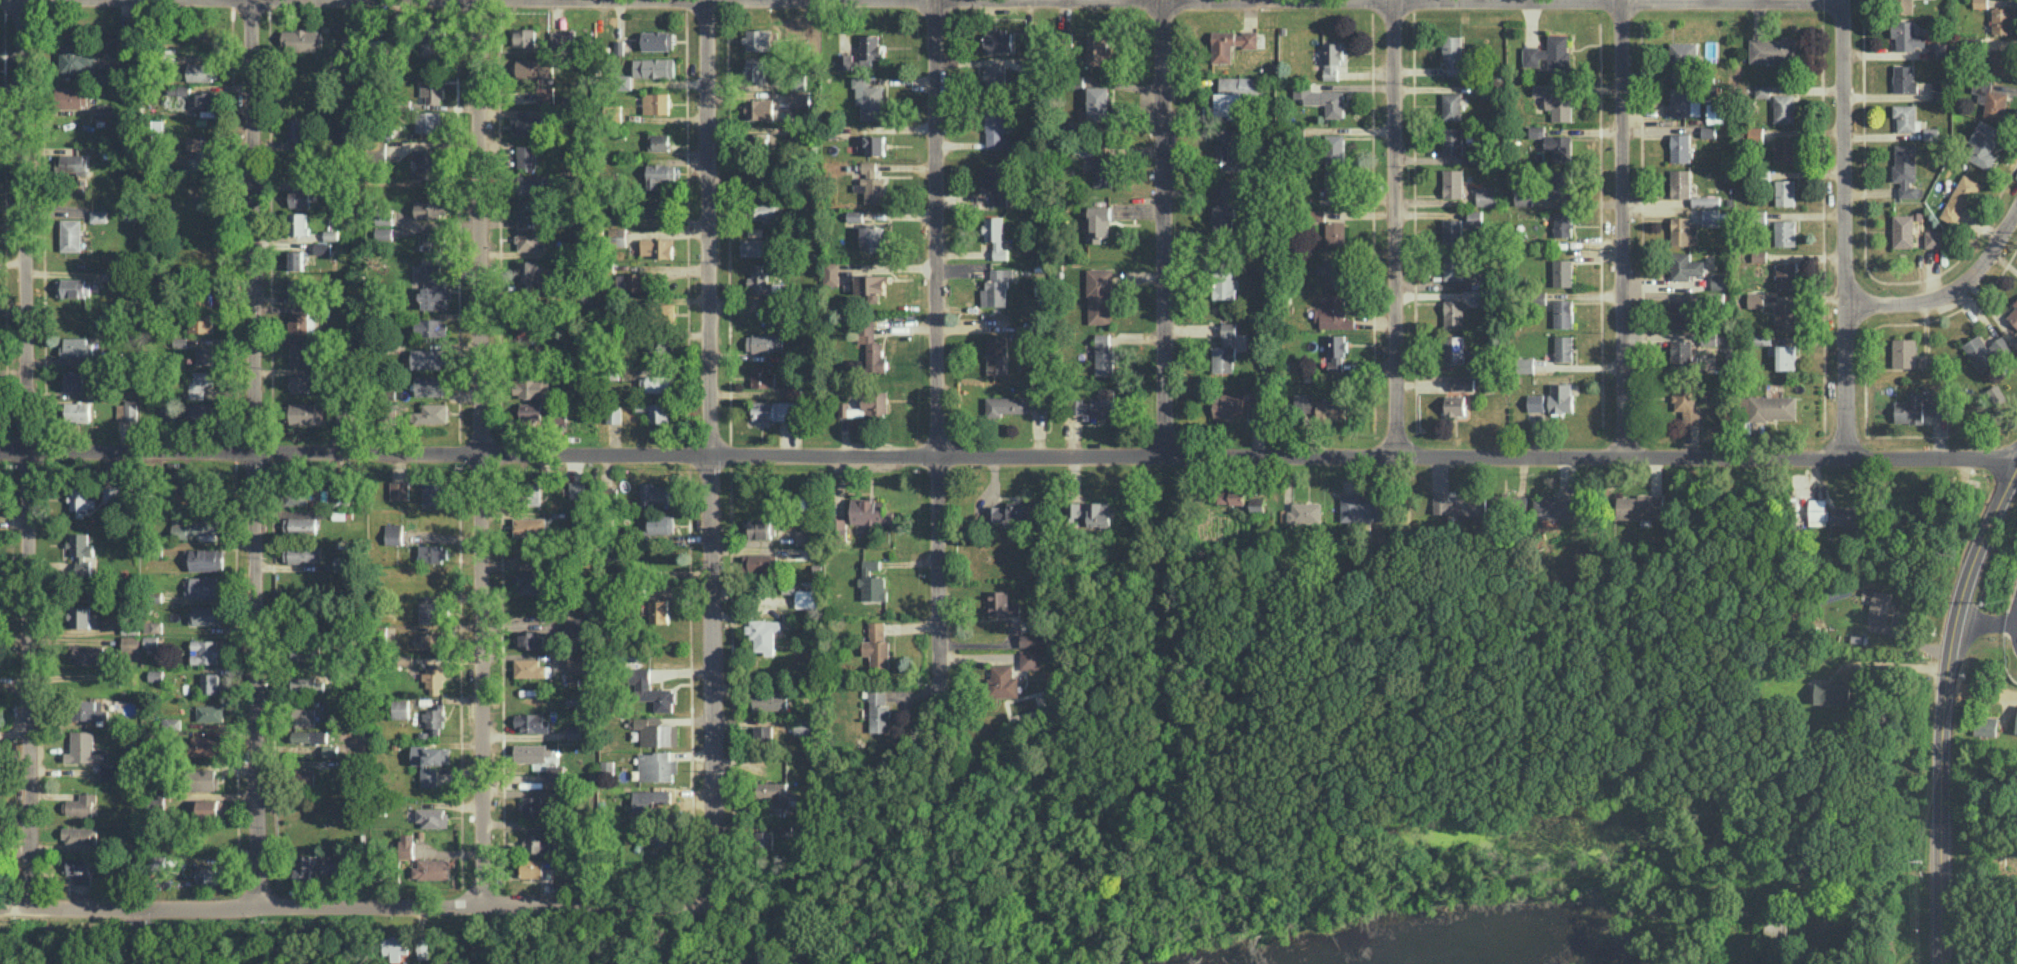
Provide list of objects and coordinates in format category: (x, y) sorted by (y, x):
road: (1507, 0)
building: (1980, 3)
building: (1902, 6)
building: (2001, 19)
building: (1906, 35)
building: (523, 37)
building: (302, 39)
building: (759, 39)
building: (658, 40)
building: (347, 41)
building: (998, 41)
building: (430, 42)
building: (1231, 43)
building: (123, 44)
building: (870, 46)
building: (1098, 46)
building: (1772, 49)
building: (1937, 49)
building: (1550, 53)
building: (1453, 54)
building: (76, 58)
building: (1331, 59)
building: (1682, 59)
building: (845, 61)
building: (2001, 61)
building: (535, 67)
building: (654, 67)
building: (755, 70)
building: (200, 71)
building: (995, 78)
building: (1904, 79)
building: (1239, 84)
building: (178, 89)
building: (1939, 89)
building: (1762, 90)
building: (432, 91)
building: (1487, 92)
building: (545, 94)
building: (72, 96)
building: (206, 98)
building: (800, 98)
building: (869, 98)
building: (1322, 98)
building: (1556, 99)
building: (1991, 99)
building: (174, 101)
building: (656, 102)
building: (1099, 102)
building: (1683, 102)
building: (1225, 103)
building: (1452, 105)
building: (760, 108)
building: (1784, 108)
building: (106, 109)
building: (1715, 113)
building: (1905, 116)
building: (428, 121)
building: (527, 125)
building: (1075, 126)
building: (996, 129)
building: (297, 130)
building: (1931, 133)
building: (1755, 134)
building: (762, 139)
building: (1452, 140)
building: (658, 141)
building: (872, 144)
building: (1224, 145)
building: (1982, 145)
building: (1334, 147)
building: (1558, 147)
building: (1680, 147)
building: (1784, 150)
building: (526, 155)
building: (1471, 157)
building: (74, 163)
building: (201, 163)
building: (428, 164)
building: (869, 167)
building: (1905, 169)
building: (1103, 171)
building: (660, 173)
building: (996, 182)
building: (1334, 183)
building: (1453, 183)
building: (1562, 183)
building: (1680, 183)
building: (529, 184)
building: (874, 189)
building: (1785, 192)
building: (1486, 195)
building: (299, 196)
building: (1960, 198)
building: (1705, 200)
building: (656, 208)
building: (430, 209)
building: (527, 209)
building: (1225, 209)
building: (764, 213)
building: (99, 215)
building: (855, 216)
building: (1713, 216)
building: (386, 217)
building: (1474, 217)
building: (1099, 222)
building: (298, 223)
building: (1562, 223)
road: (1162, 228)
road: (1844, 228)
road: (1394, 229)
road: (1623, 229)
building: (1683, 230)
building: (1903, 230)
building: (756, 231)
building: (1452, 231)
building: (1335, 232)
building: (1785, 232)
building: (384, 233)
building: (72, 234)
building: (331, 235)
building: (996, 235)
building: (619, 236)
building: (870, 237)
building: (1932, 237)
building: (527, 238)
building: (432, 241)
building: (756, 246)
building: (658, 247)
building: (322, 248)
building: (296, 259)
building: (1453, 265)
building: (1685, 265)
building: (1333, 272)
building: (1562, 272)
building: (831, 273)
building: (1786, 274)
building: (527, 275)
building: (621, 281)
building: (636, 281)
building: (761, 281)
building: (1721, 281)
building: (1225, 285)
building: (434, 286)
building: (871, 286)
building: (73, 287)
building: (997, 287)
building: (300, 290)
road: (1949, 291)
building: (1099, 295)
building: (1486, 298)
building: (1755, 299)
building: (669, 311)
building: (1333, 312)
building: (1453, 313)
building: (1563, 313)
building: (1681, 314)
building: (2013, 314)
building: (1785, 316)
building: (200, 321)
building: (302, 322)
building: (431, 327)
building: (528, 328)
building: (763, 342)
building: (2015, 342)
building: (1336, 345)
building: (872, 346)
road: (936, 346)
building: (76, 347)
building: (1454, 348)
building: (1563, 348)
building: (542, 349)
building: (1225, 350)
building: (1986, 350)
building: (1904, 352)
building: (300, 354)
building: (997, 354)
building: (1104, 354)
building: (1681, 354)
building: (204, 355)
building: (1785, 356)
building: (429, 358)
building: (1474, 358)
building: (1527, 364)
building: (1345, 366)
building: (762, 376)
building: (73, 381)
building: (199, 382)
building: (300, 383)
building: (657, 383)
building: (1463, 383)
building: (577, 384)
building: (431, 385)
building: (531, 387)
building: (1560, 397)
building: (875, 402)
building: (1104, 402)
building: (1304, 402)
building: (1535, 402)
building: (1237, 404)
building: (1455, 404)
building: (1686, 404)
building: (1006, 405)
building: (1081, 406)
building: (1768, 407)
building: (1919, 408)
building: (848, 409)
building: (1331, 409)
building: (127, 410)
building: (656, 410)
building: (774, 410)
building: (77, 411)
building: (533, 411)
building: (166, 412)
building: (306, 412)
building: (202, 413)
building: (432, 413)
building: (614, 415)
building: (344, 417)
road: (709, 450)
road: (256, 453)
road: (25, 454)
road: (480, 454)
road: (1008, 456)
building: (399, 489)
building: (576, 489)
building: (189, 490)
building: (531, 492)
building: (111, 493)
building: (656, 494)
building: (295, 495)
building: (433, 495)
building: (1231, 496)
building: (343, 497)
building: (80, 500)
building: (1258, 504)
building: (1460, 504)
building: (1639, 506)
building: (1554, 507)
building: (1364, 508)
building: (1011, 511)
building: (1818, 511)
building: (871, 512)
building: (1092, 512)
building: (1305, 512)
building: (1849, 517)
building: (300, 524)
building: (659, 524)
building: (528, 525)
building: (194, 526)
building: (840, 527)
building: (760, 528)
building: (393, 533)
building: (805, 536)
building: (80, 544)
building: (433, 553)
building: (303, 554)
building: (204, 558)
building: (763, 561)
building: (342, 563)
building: (83, 565)
building: (873, 581)
building: (527, 582)
building: (206, 586)
building: (807, 597)
building: (1001, 603)
building: (1879, 606)
building: (659, 610)
building: (431, 612)
building: (205, 614)
building: (79, 616)
building: (131, 625)
building: (1015, 625)
building: (153, 626)
building: (576, 626)
building: (763, 633)
building: (1032, 639)
building: (428, 640)
building: (151, 641)
building: (131, 643)
building: (877, 645)
building: (205, 650)
building: (86, 652)
building: (304, 653)
building: (1029, 658)
building: (578, 663)
road: (1896, 664)
building: (529, 668)
building: (155, 674)
building: (434, 675)
building: (1002, 681)
building: (210, 682)
building: (306, 683)
building: (651, 690)
building: (1831, 693)
road: (1979, 699)
building: (769, 701)
building: (400, 708)
building: (91, 710)
building: (879, 710)
road: (1941, 711)
building: (210, 712)
building: (305, 716)
building: (434, 718)
building: (171, 722)
building: (531, 722)
building: (1985, 725)
building: (802, 726)
building: (576, 731)
building: (2016, 731)
building: (763, 732)
building: (656, 733)
building: (300, 735)
building: (206, 745)
building: (82, 747)
building: (329, 750)
building: (530, 753)
building: (430, 762)
building: (656, 766)
building: (109, 772)
building: (555, 773)
building: (306, 777)
building: (207, 779)
building: (774, 793)
building: (649, 799)
building: (81, 803)
building: (535, 806)
building: (210, 808)
building: (432, 817)
building: (79, 834)
building: (662, 838)
building: (763, 839)
building: (537, 842)
building: (406, 845)
building: (156, 861)
building: (74, 864)
building: (330, 864)
road: (1978, 864)
building: (532, 867)
building: (433, 868)
building: (304, 869)
building: (209, 873)
road: (350, 907)
building: (1776, 924)
road: (139, 936)
building: (396, 948)
building: (423, 951)

